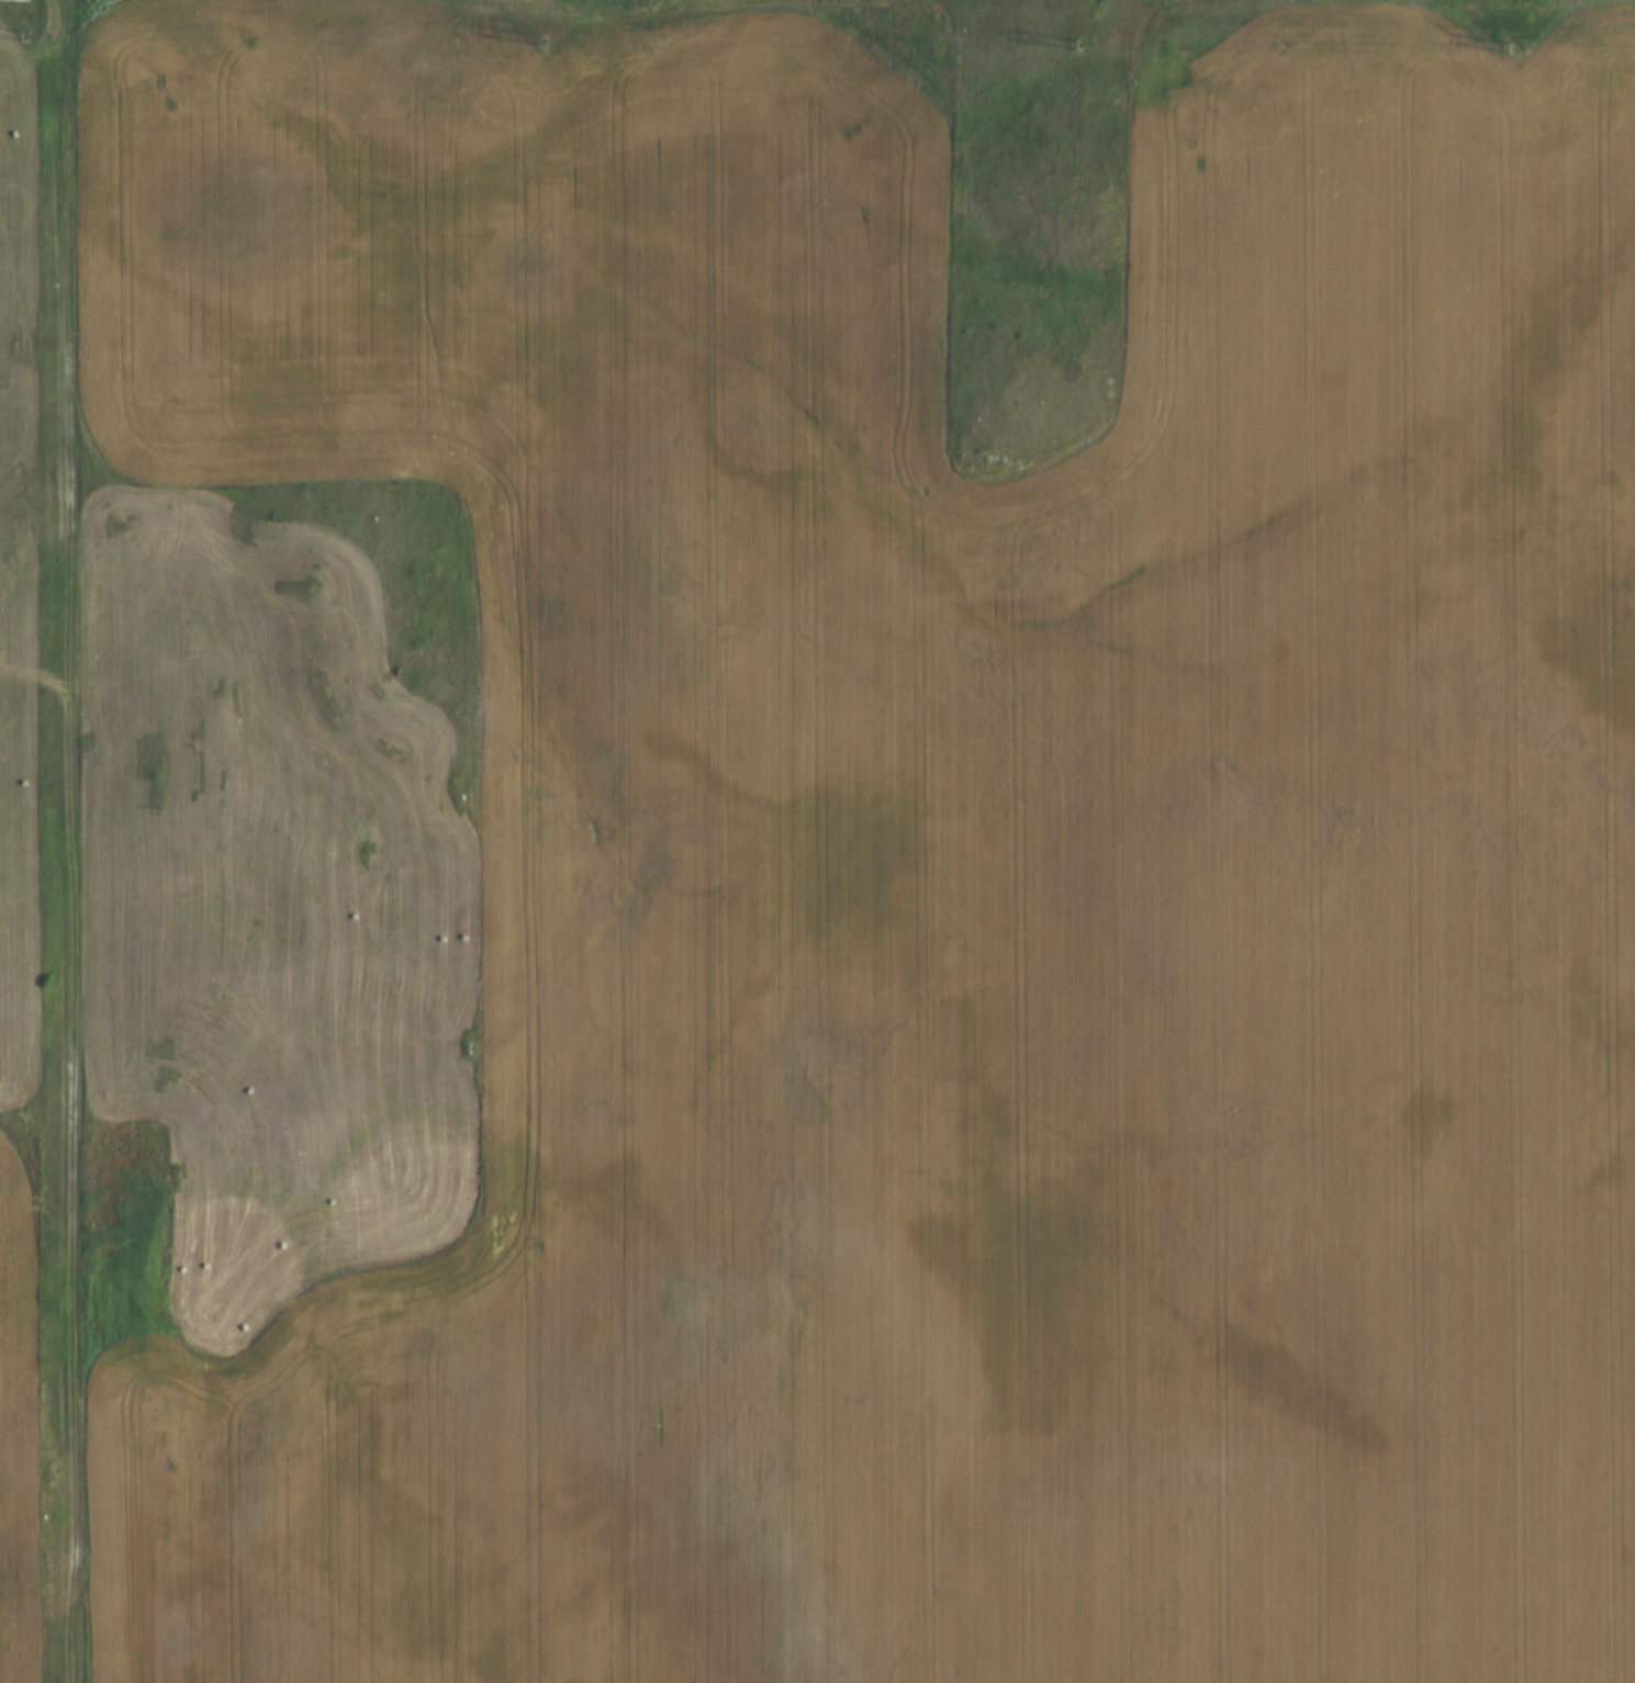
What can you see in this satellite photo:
road: (1474, 0)
road: (75, 831)

